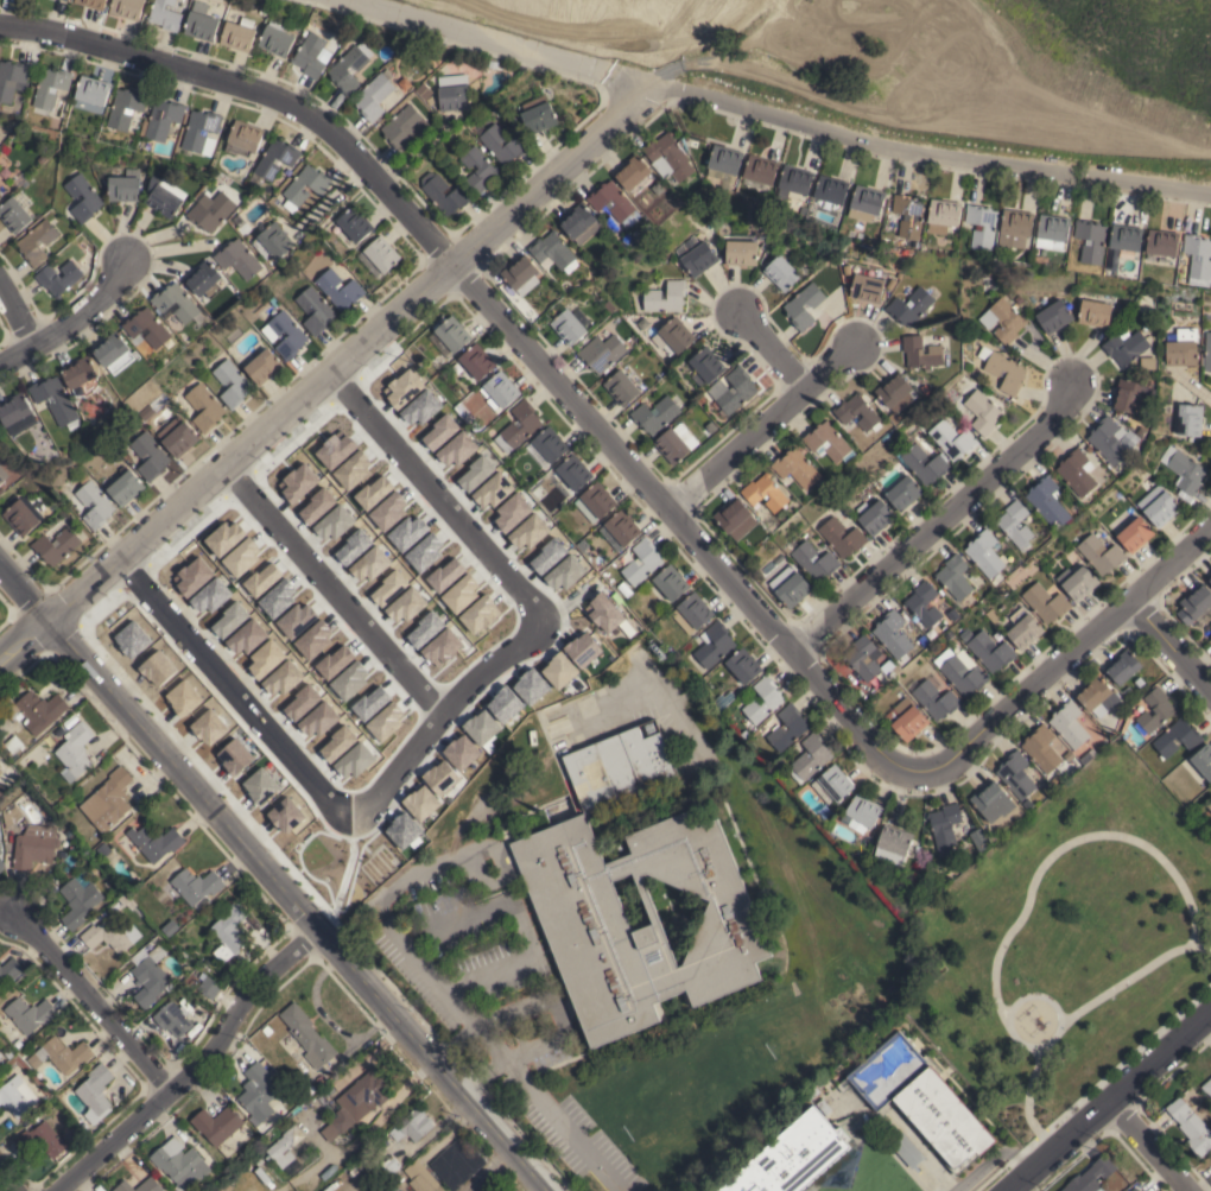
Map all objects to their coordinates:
building: (66, 0)
building: (91, 4)
building: (126, 8)
building: (262, 9)
building: (164, 14)
building: (201, 24)
building: (237, 33)
building: (275, 42)
road: (740, 45)
building: (309, 56)
building: (348, 68)
road: (665, 74)
building: (13, 78)
building: (51, 85)
building: (94, 94)
building: (374, 95)
building: (454, 97)
road: (1047, 97)
building: (126, 107)
building: (538, 114)
road: (775, 115)
building: (163, 118)
building: (404, 127)
building: (201, 132)
building: (243, 138)
building: (515, 142)
building: (693, 142)
building: (668, 157)
building: (273, 160)
building: (724, 164)
building: (478, 167)
building: (760, 171)
building: (634, 173)
building: (794, 180)
building: (125, 186)
building: (305, 186)
building: (444, 192)
building: (830, 192)
building: (0, 194)
building: (164, 196)
building: (82, 197)
building: (791, 199)
building: (613, 201)
building: (866, 202)
building: (210, 209)
building: (15, 210)
building: (909, 215)
building: (943, 215)
building: (355, 223)
building: (579, 223)
building: (982, 224)
building: (649, 227)
building: (1015, 227)
building: (1052, 230)
building: (1091, 240)
building: (274, 242)
building: (26, 243)
building: (1123, 243)
building: (1161, 245)
building: (741, 249)
building: (552, 251)
building: (696, 255)
building: (379, 256)
building: (239, 259)
building: (1198, 259)
building: (781, 272)
building: (521, 273)
building: (58, 277)
building: (204, 278)
building: (867, 287)
building: (338, 289)
building: (665, 297)
building: (1019, 299)
building: (178, 303)
building: (804, 305)
building: (911, 305)
building: (315, 310)
building: (1095, 312)
road: (18, 316)
building: (579, 316)
building: (1054, 316)
building: (1002, 318)
road: (69, 322)
road: (506, 325)
building: (147, 327)
building: (569, 327)
building: (297, 335)
building: (676, 335)
building: (450, 336)
building: (1124, 346)
building: (1181, 347)
road: (772, 350)
building: (114, 353)
building: (601, 353)
building: (921, 353)
building: (1206, 353)
road: (351, 354)
building: (430, 355)
building: (477, 361)
building: (1147, 362)
building: (262, 366)
building: (704, 366)
building: (1015, 374)
building: (82, 375)
building: (964, 379)
building: (232, 382)
building: (621, 387)
building: (925, 388)
building: (500, 389)
building: (733, 391)
building: (893, 391)
building: (1127, 395)
building: (55, 399)
building: (204, 406)
building: (982, 410)
building: (146, 411)
building: (857, 412)
building: (17, 413)
building: (655, 413)
building: (1190, 419)
building: (75, 424)
building: (519, 426)
road: (761, 427)
building: (1142, 430)
building: (177, 436)
building: (1109, 439)
building: (826, 441)
building: (952, 441)
building: (676, 442)
building: (890, 443)
building: (547, 446)
building: (1199, 451)
building: (150, 455)
building: (924, 463)
building: (797, 467)
building: (1184, 469)
building: (575, 471)
building: (1077, 471)
building: (2, 475)
building: (125, 487)
building: (867, 490)
building: (904, 492)
building: (765, 493)
road: (439, 495)
building: (595, 501)
building: (1048, 502)
building: (94, 503)
building: (1159, 505)
building: (875, 515)
building: (20, 517)
building: (735, 518)
road: (937, 521)
building: (1014, 522)
building: (620, 528)
building: (1135, 534)
building: (841, 537)
building: (56, 545)
building: (583, 545)
building: (1101, 553)
building: (985, 555)
building: (600, 558)
building: (812, 559)
building: (641, 560)
building: (1040, 571)
building: (953, 576)
building: (1209, 577)
building: (1077, 581)
building: (671, 582)
building: (793, 590)
road: (26, 593)
building: (1045, 602)
building: (1194, 603)
building: (924, 604)
building: (692, 612)
building: (993, 615)
building: (1023, 628)
building: (893, 634)
building: (949, 634)
building: (965, 634)
road: (1171, 644)
road: (26, 645)
building: (711, 646)
road: (386, 651)
building: (990, 651)
road: (1067, 653)
building: (863, 658)
building: (743, 665)
building: (1122, 666)
building: (895, 669)
building: (960, 670)
building: (899, 693)
building: (933, 696)
building: (1097, 696)
building: (762, 699)
building: (33, 709)
building: (1155, 709)
building: (906, 718)
building: (1069, 723)
building: (649, 727)
building: (787, 727)
building: (1177, 737)
building: (12, 743)
road: (280, 747)
building: (1041, 748)
building: (74, 750)
building: (1069, 755)
building: (810, 758)
building: (1085, 758)
building: (1203, 760)
building: (617, 766)
building: (0, 769)
building: (1015, 774)
building: (832, 784)
building: (1, 790)
building: (112, 799)
building: (991, 800)
building: (1209, 805)
building: (861, 812)
building: (9, 813)
building: (944, 823)
building: (68, 831)
building: (979, 838)
building: (151, 842)
building: (893, 843)
building: (33, 845)
building: (0, 847)
building: (103, 849)
building: (62, 851)
building: (87, 861)
building: (1, 864)
building: (962, 867)
building: (107, 885)
building: (196, 885)
building: (51, 889)
building: (78, 901)
building: (920, 901)
road: (297, 907)
road: (518, 917)
park: (1083, 920)
building: (587, 927)
building: (229, 931)
building: (110, 935)
building: (191, 961)
building: (9, 970)
building: (151, 977)
building: (190, 978)
building: (209, 987)
road: (451, 1002)
road: (91, 1005)
building: (28, 1014)
building: (173, 1018)
building: (267, 1030)
building: (307, 1034)
building: (19, 1044)
building: (0, 1054)
building: (62, 1054)
road: (198, 1069)
road: (508, 1069)
building: (1206, 1085)
building: (95, 1089)
building: (258, 1091)
building: (17, 1095)
building: (921, 1098)
building: (357, 1101)
road: (1110, 1104)
road: (374, 1122)
building: (217, 1123)
building: (412, 1125)
building: (1191, 1126)
road: (565, 1129)
building: (42, 1139)
building: (285, 1145)
road: (1150, 1147)
building: (792, 1155)
building: (454, 1163)
building: (180, 1164)
building: (391, 1164)
road: (489, 1171)
building: (1091, 1176)
building: (421, 1177)
building: (139, 1185)
building: (203, 1185)
road: (1, 1187)
building: (296, 1190)
building: (1134, 1190)
building: (1137, 1190)

